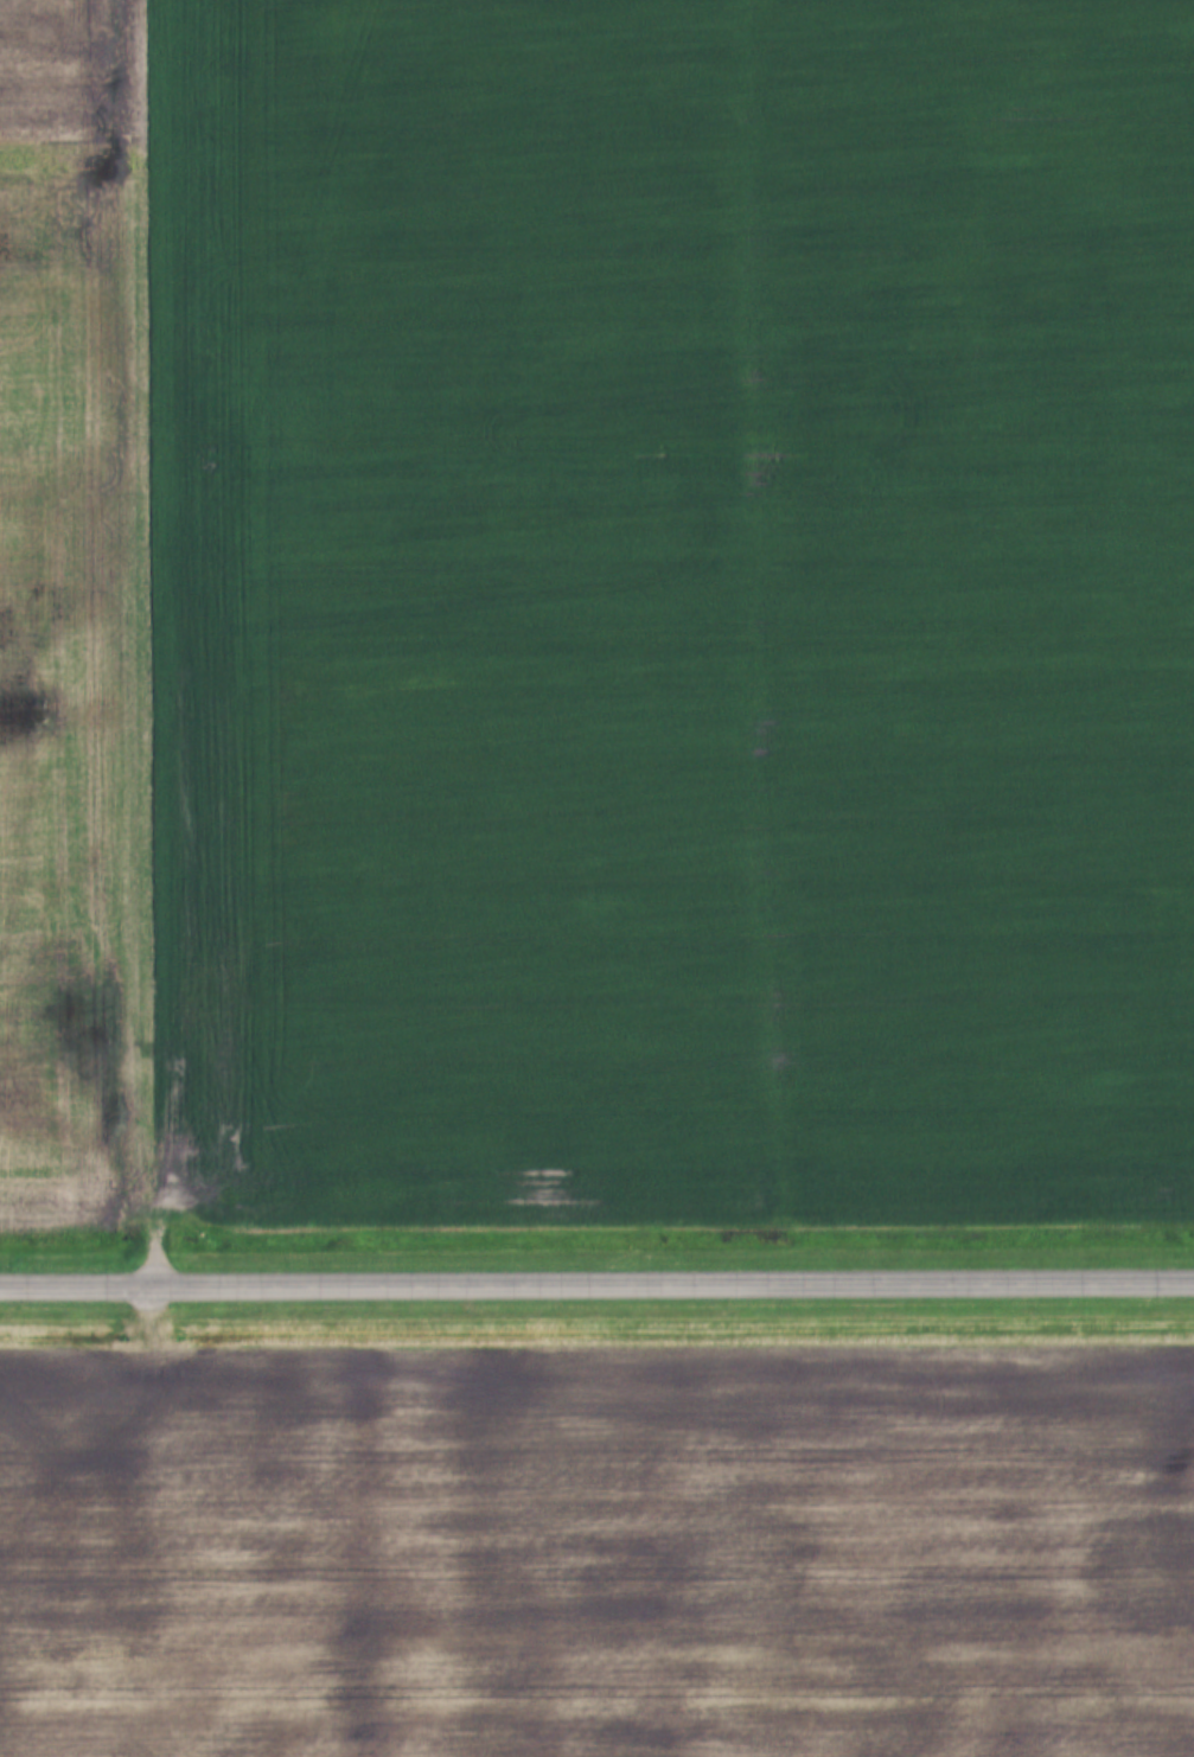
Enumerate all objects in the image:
road: (596, 1289)

